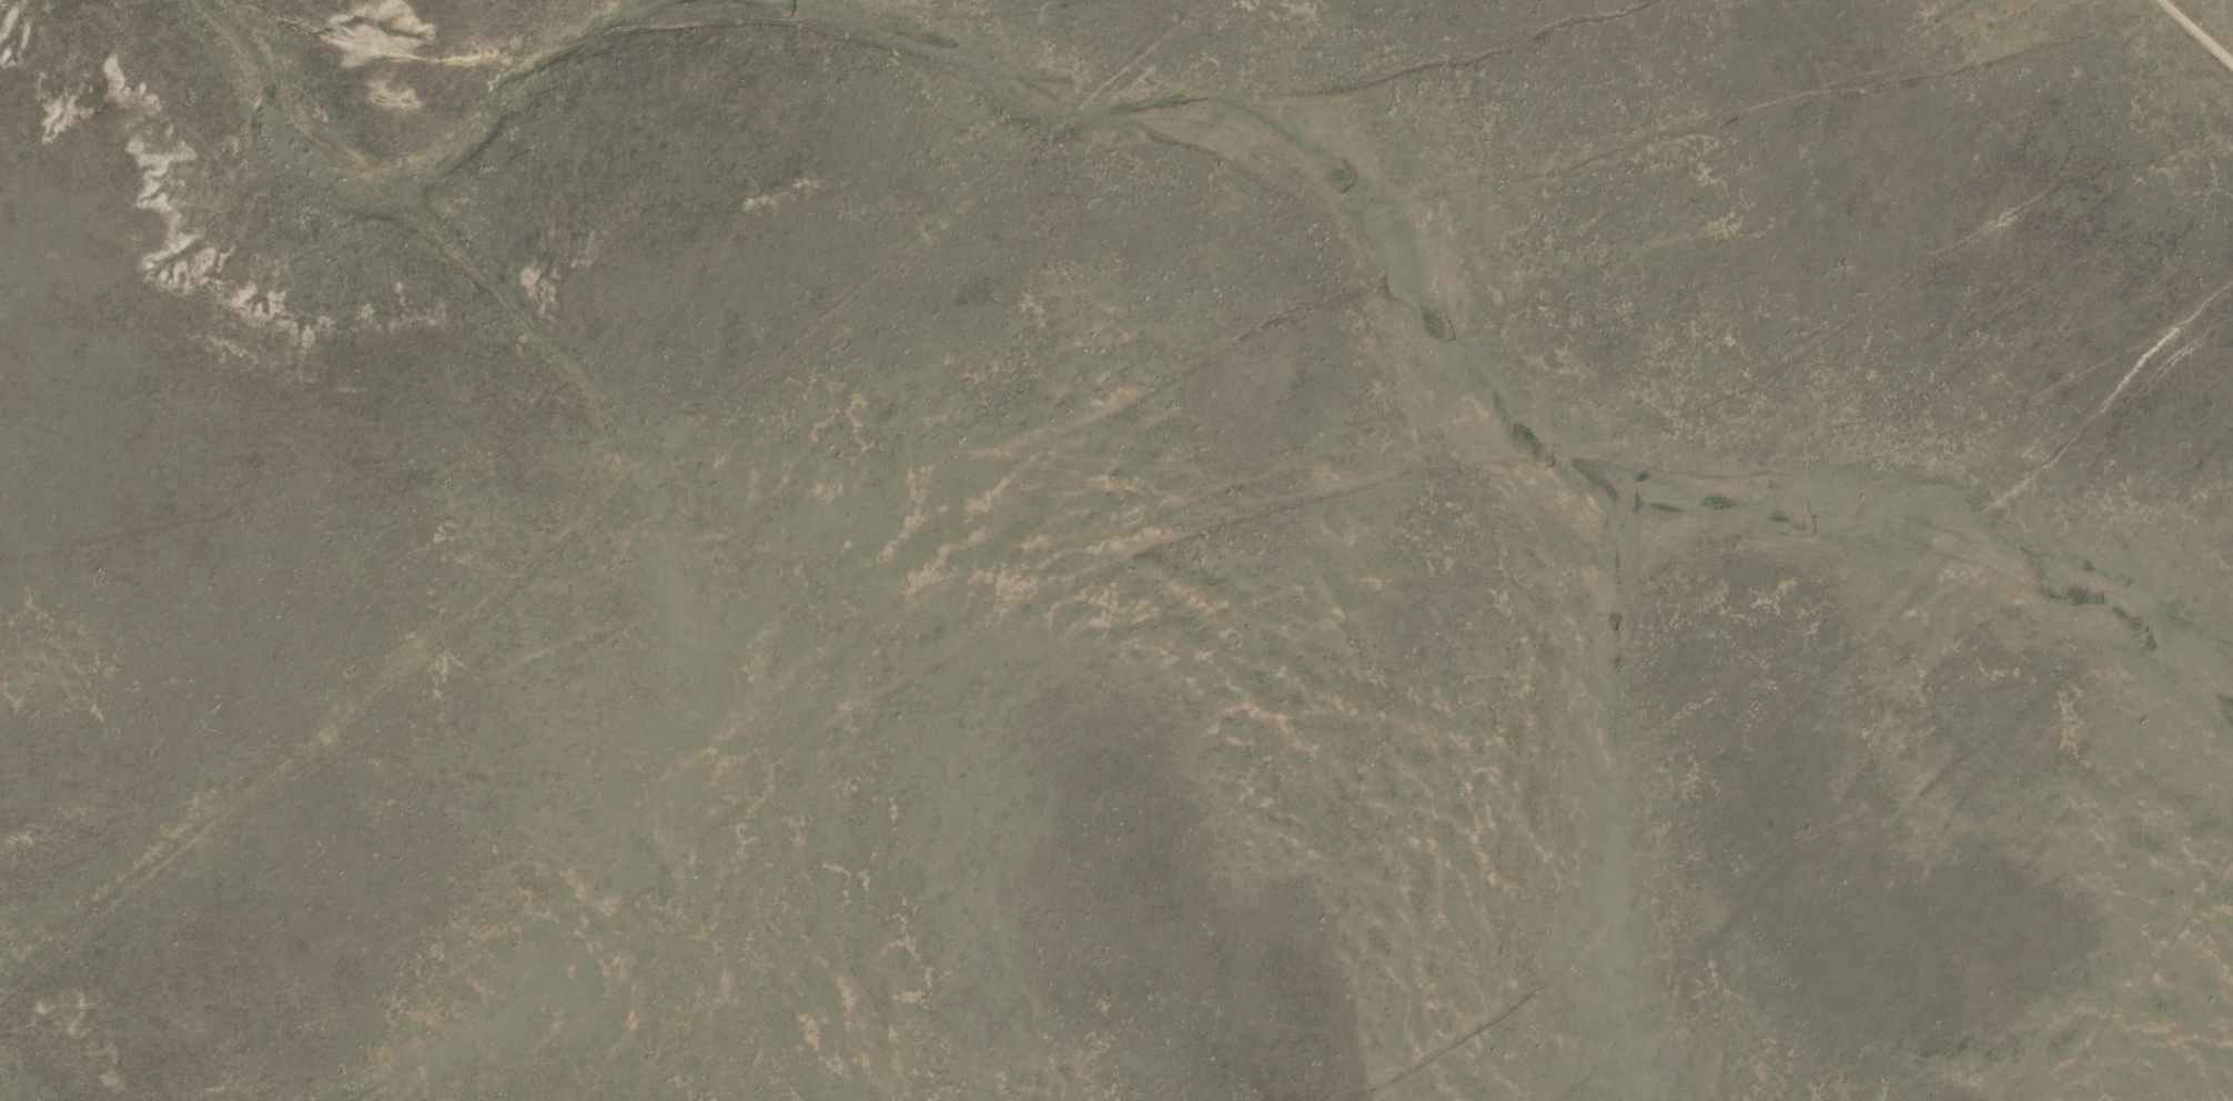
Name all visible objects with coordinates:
road: (2192, 33)

